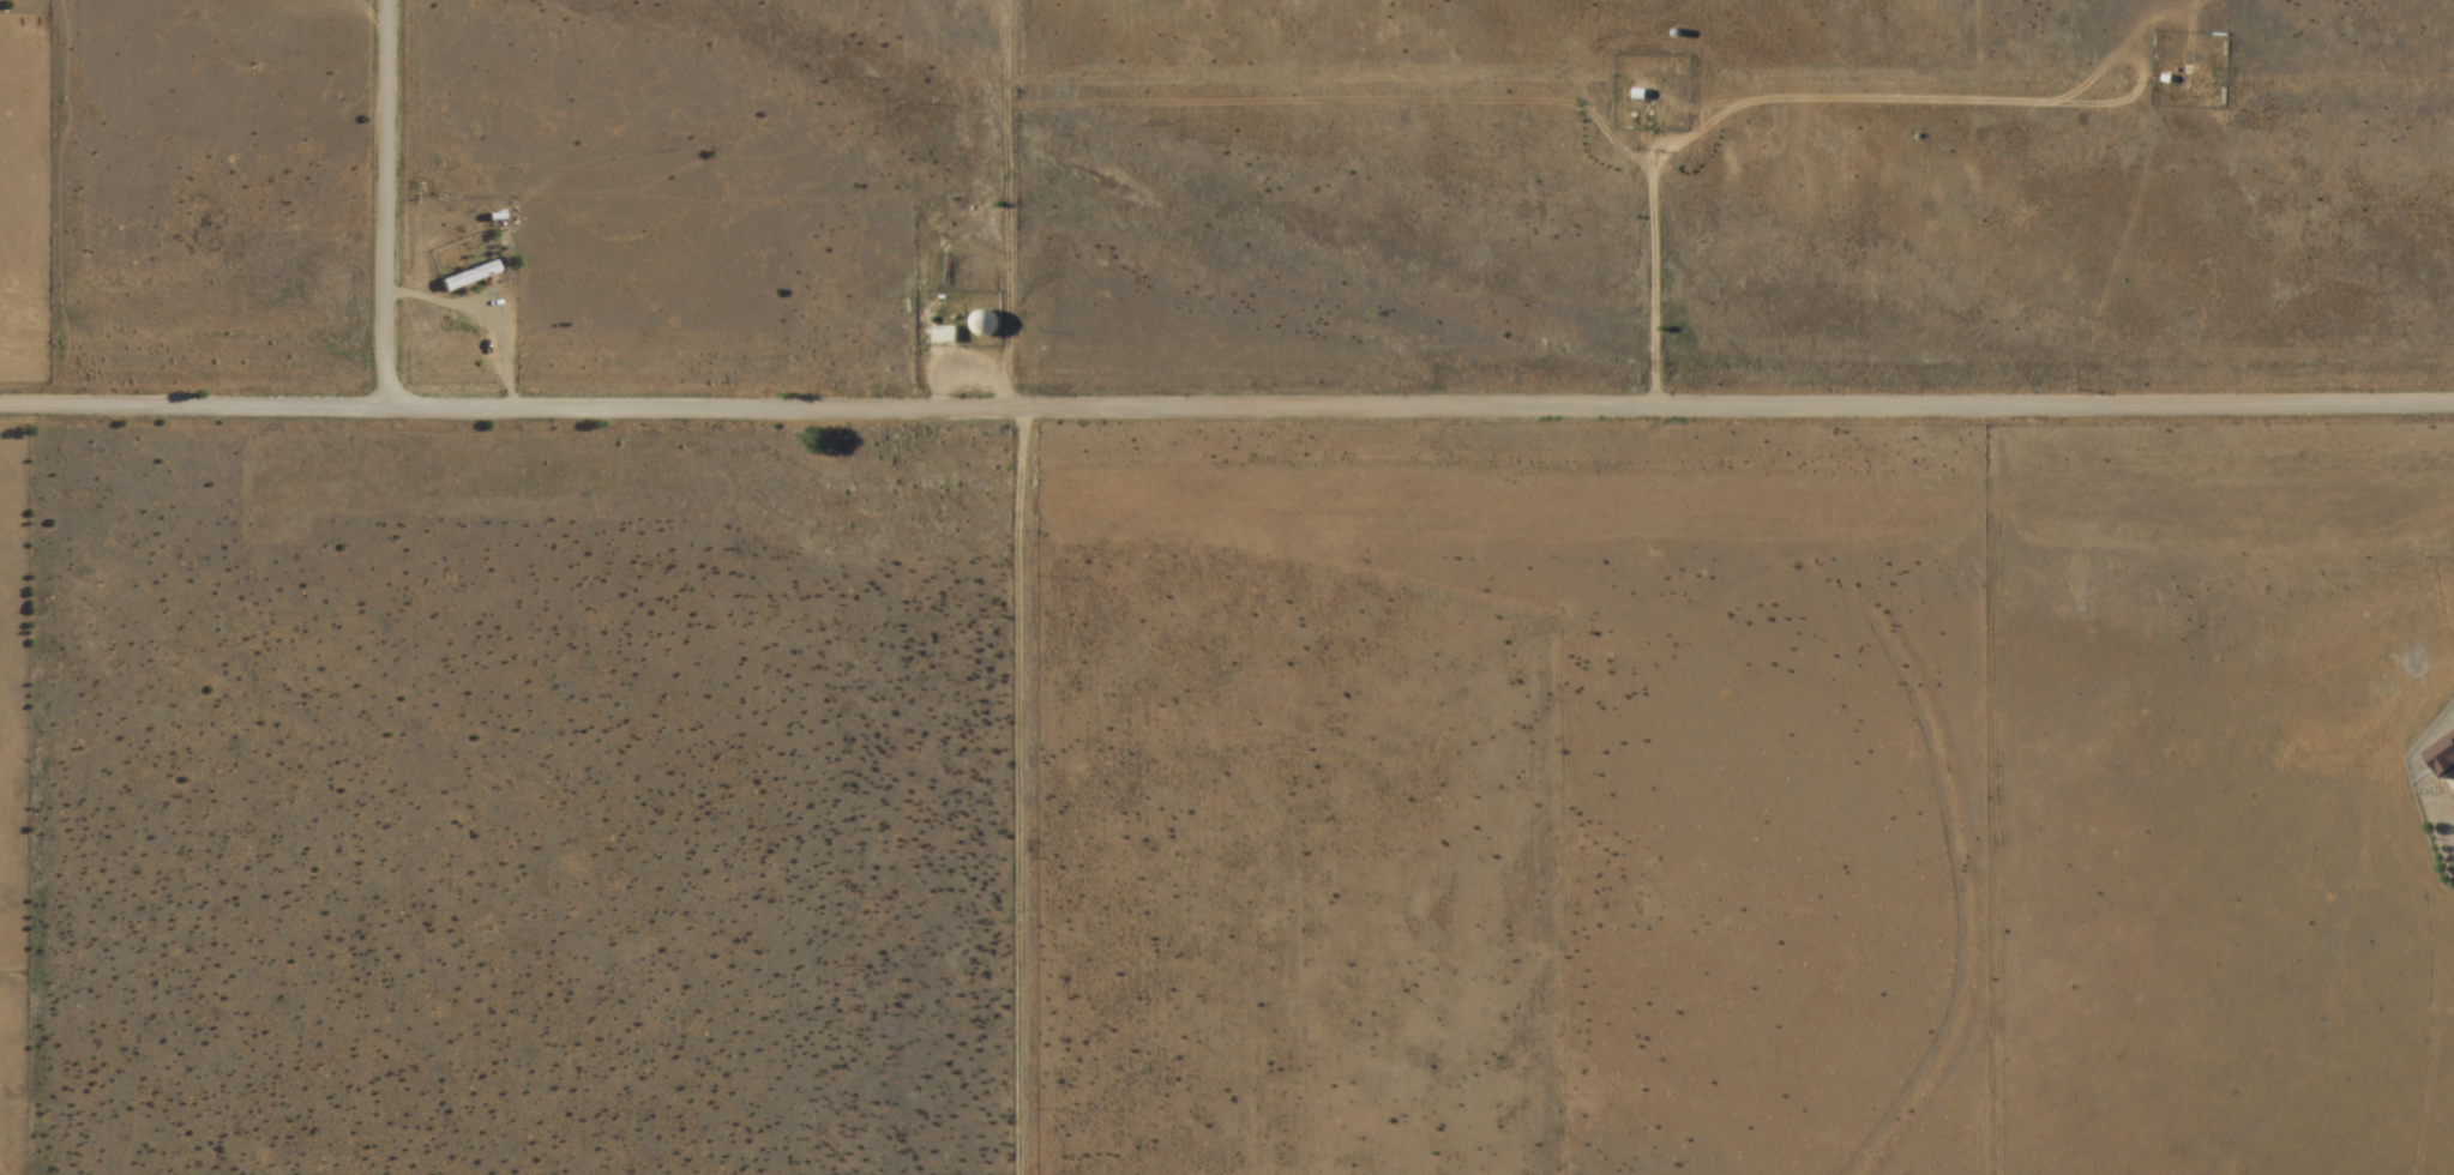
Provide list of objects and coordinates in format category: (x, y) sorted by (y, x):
road: (381, 203)
building: (468, 277)
building: (985, 325)
building: (945, 336)
road: (1227, 394)
building: (2442, 759)
road: (1894, 779)

